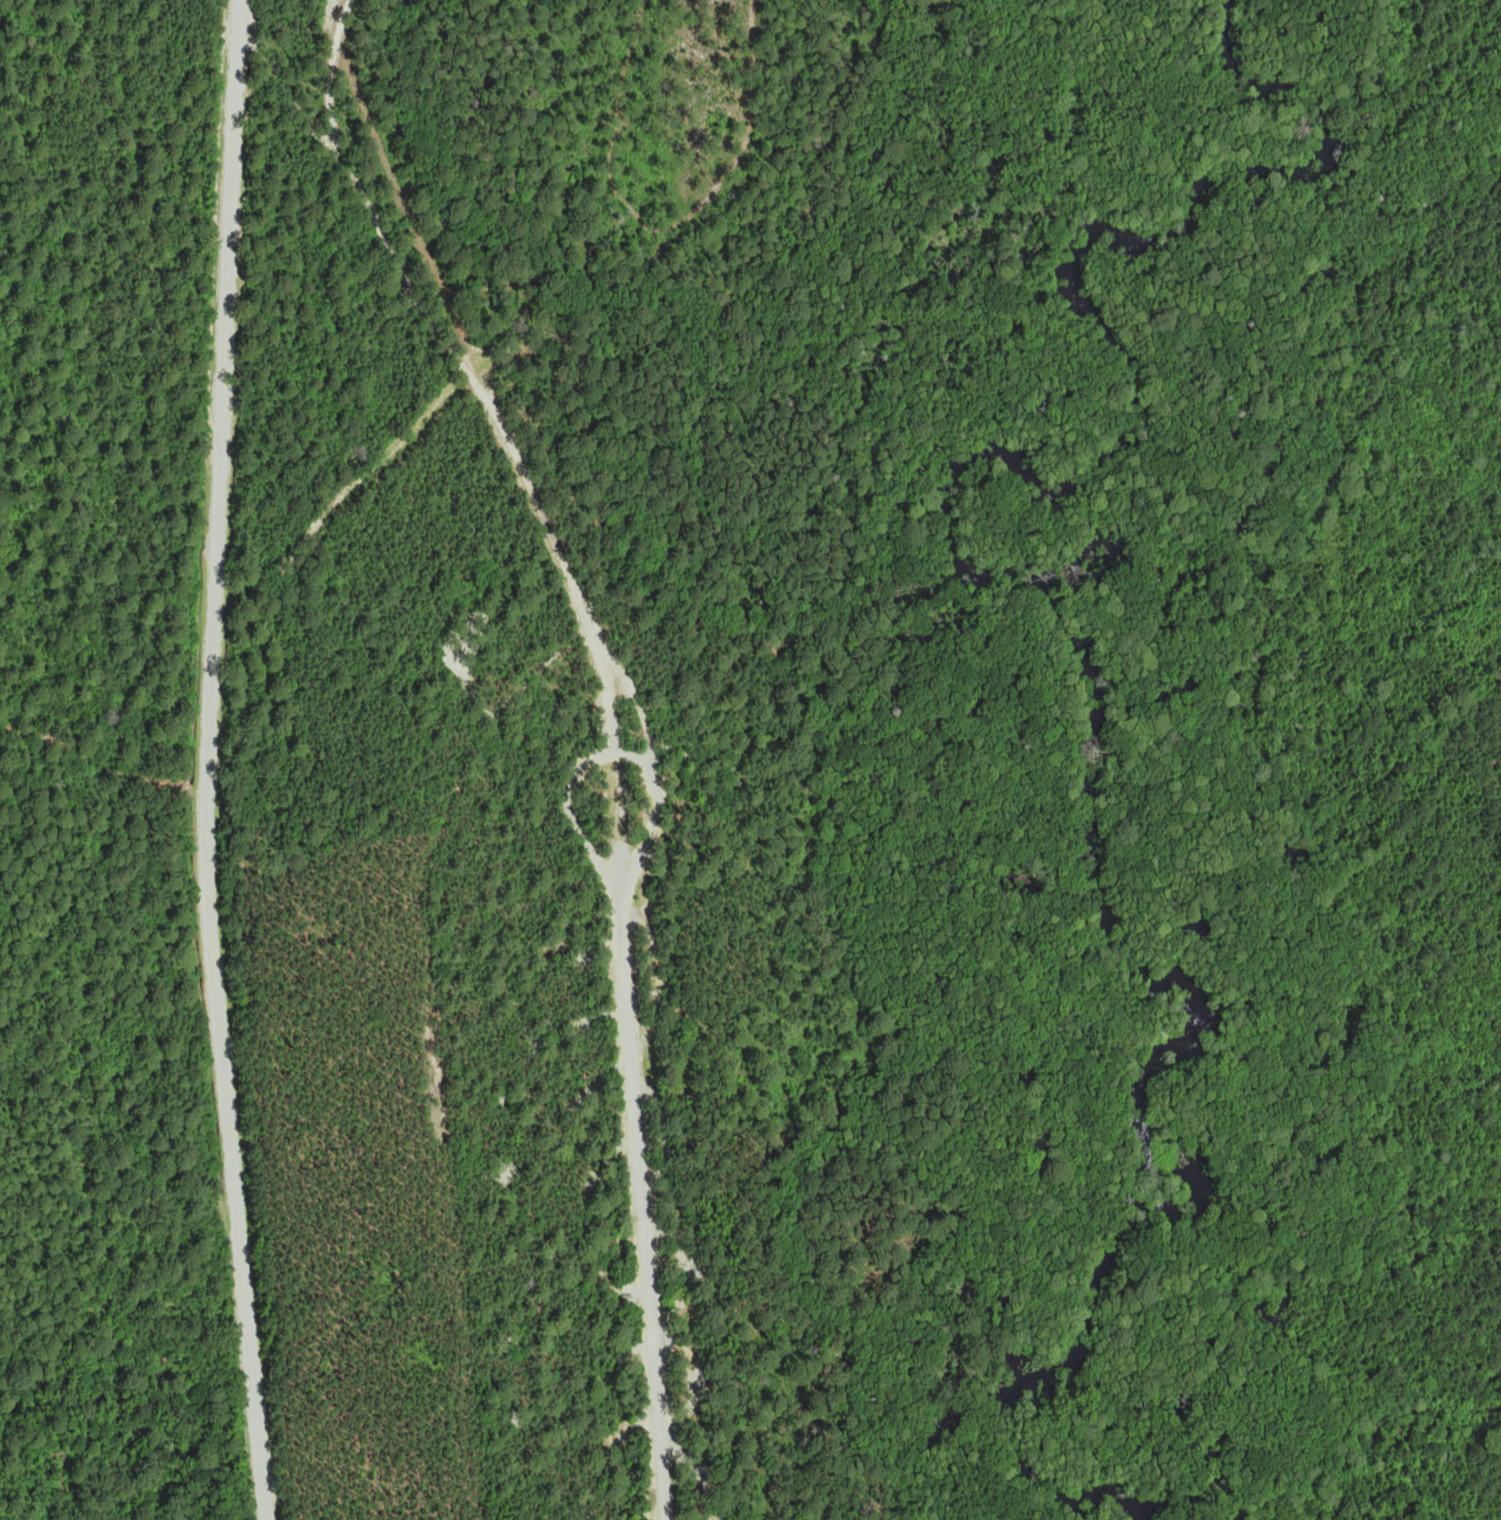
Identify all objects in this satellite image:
road: (336, 13)
road: (343, 13)
road: (485, 400)
river: (1070, 625)
park: (547, 748)
road: (598, 756)
road: (207, 760)
road: (644, 1207)

